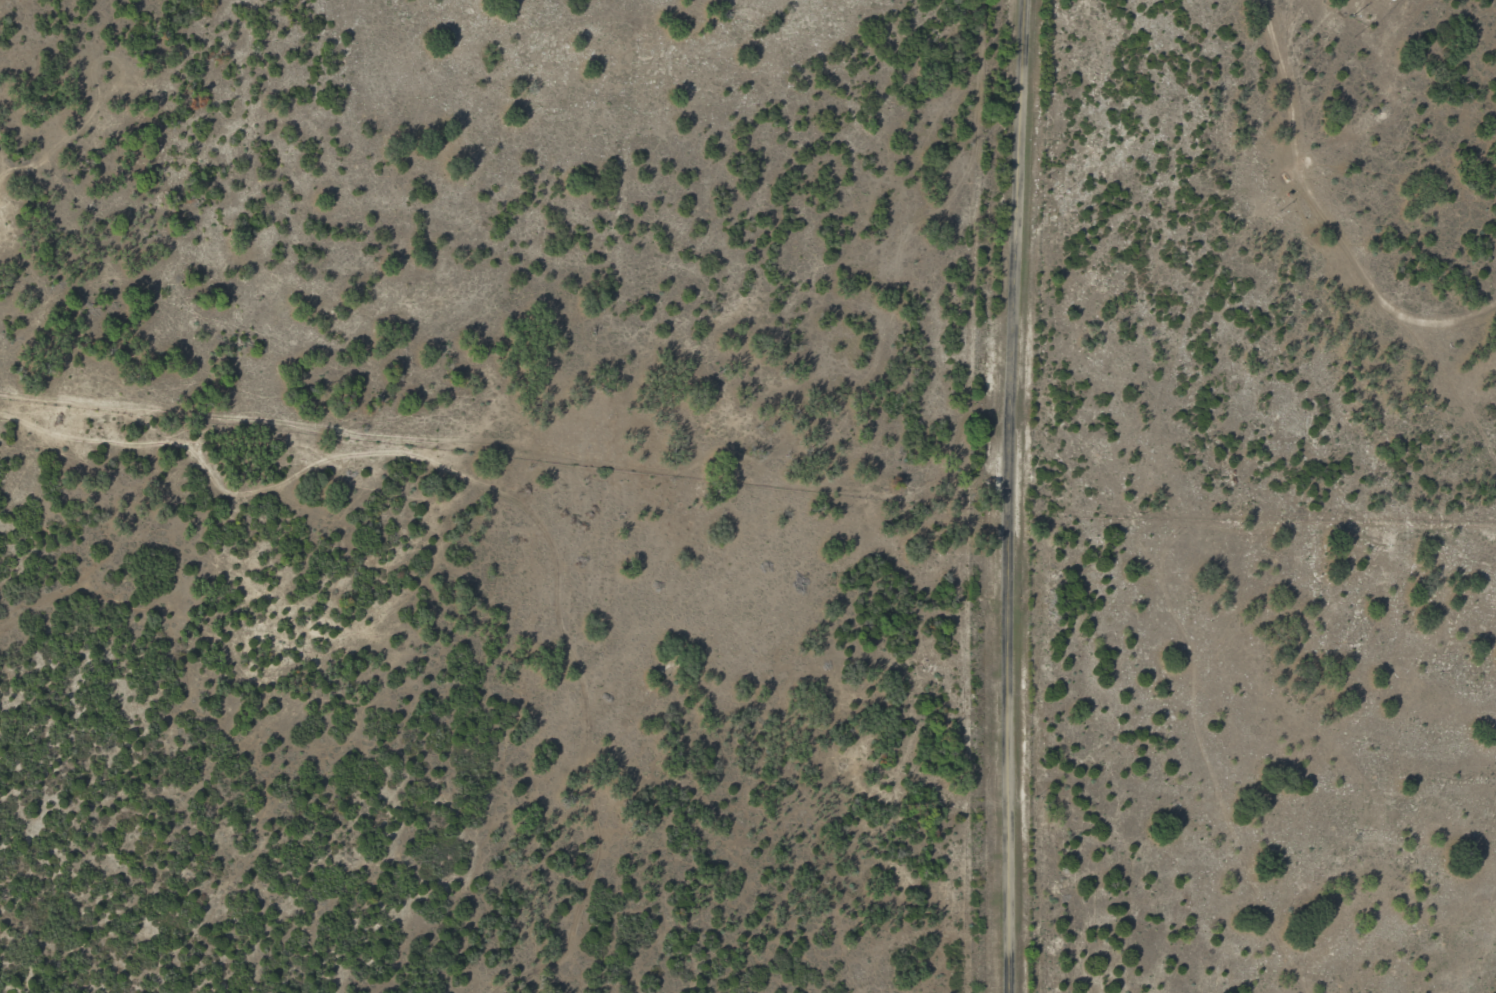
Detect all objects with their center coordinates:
road: (1015, 496)

